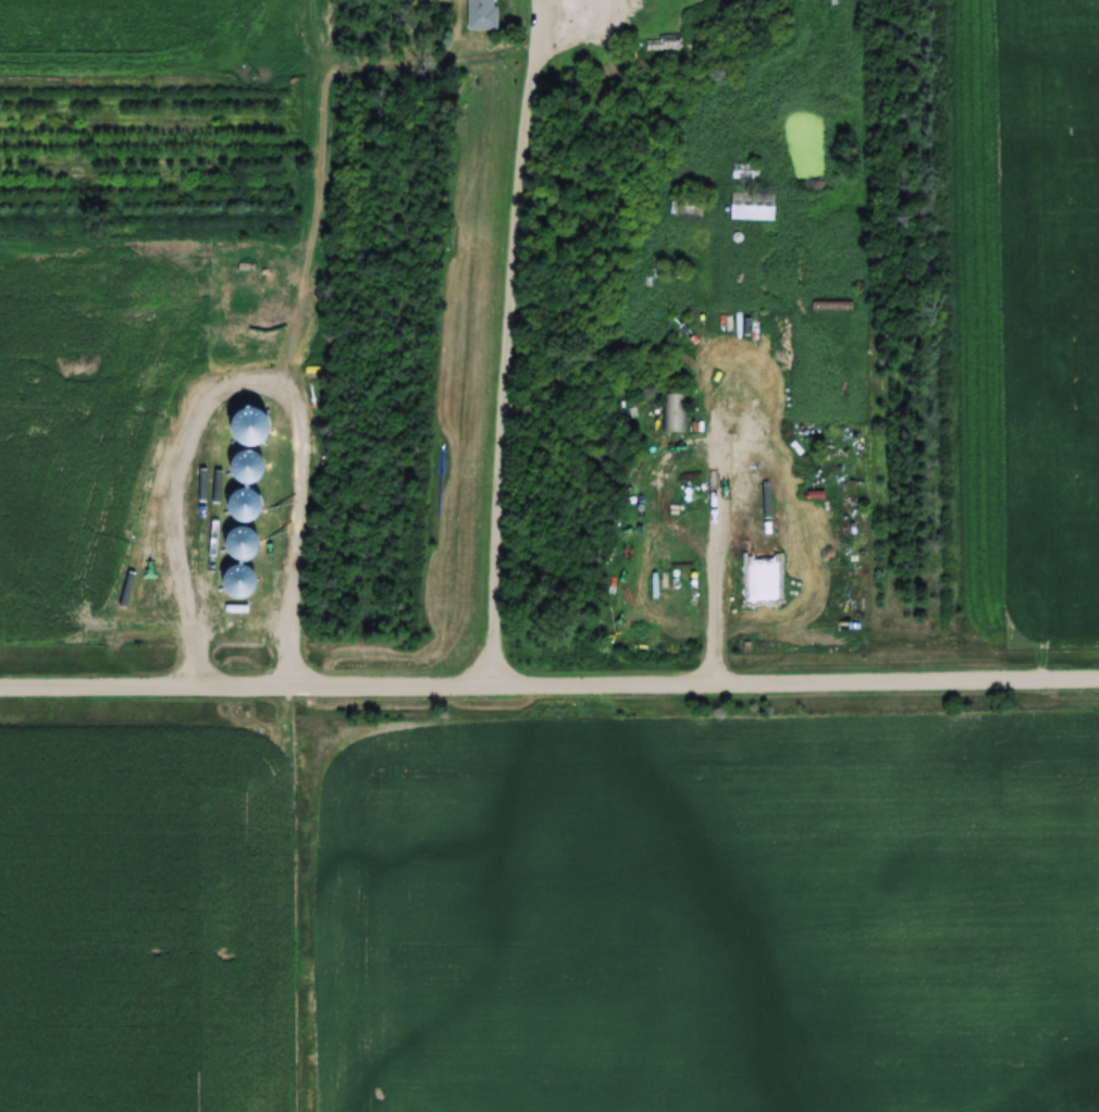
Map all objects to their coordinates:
building: (479, 14)
building: (751, 207)
building: (675, 412)
building: (239, 504)
building: (237, 544)
building: (235, 579)
building: (674, 611)
road: (549, 677)

